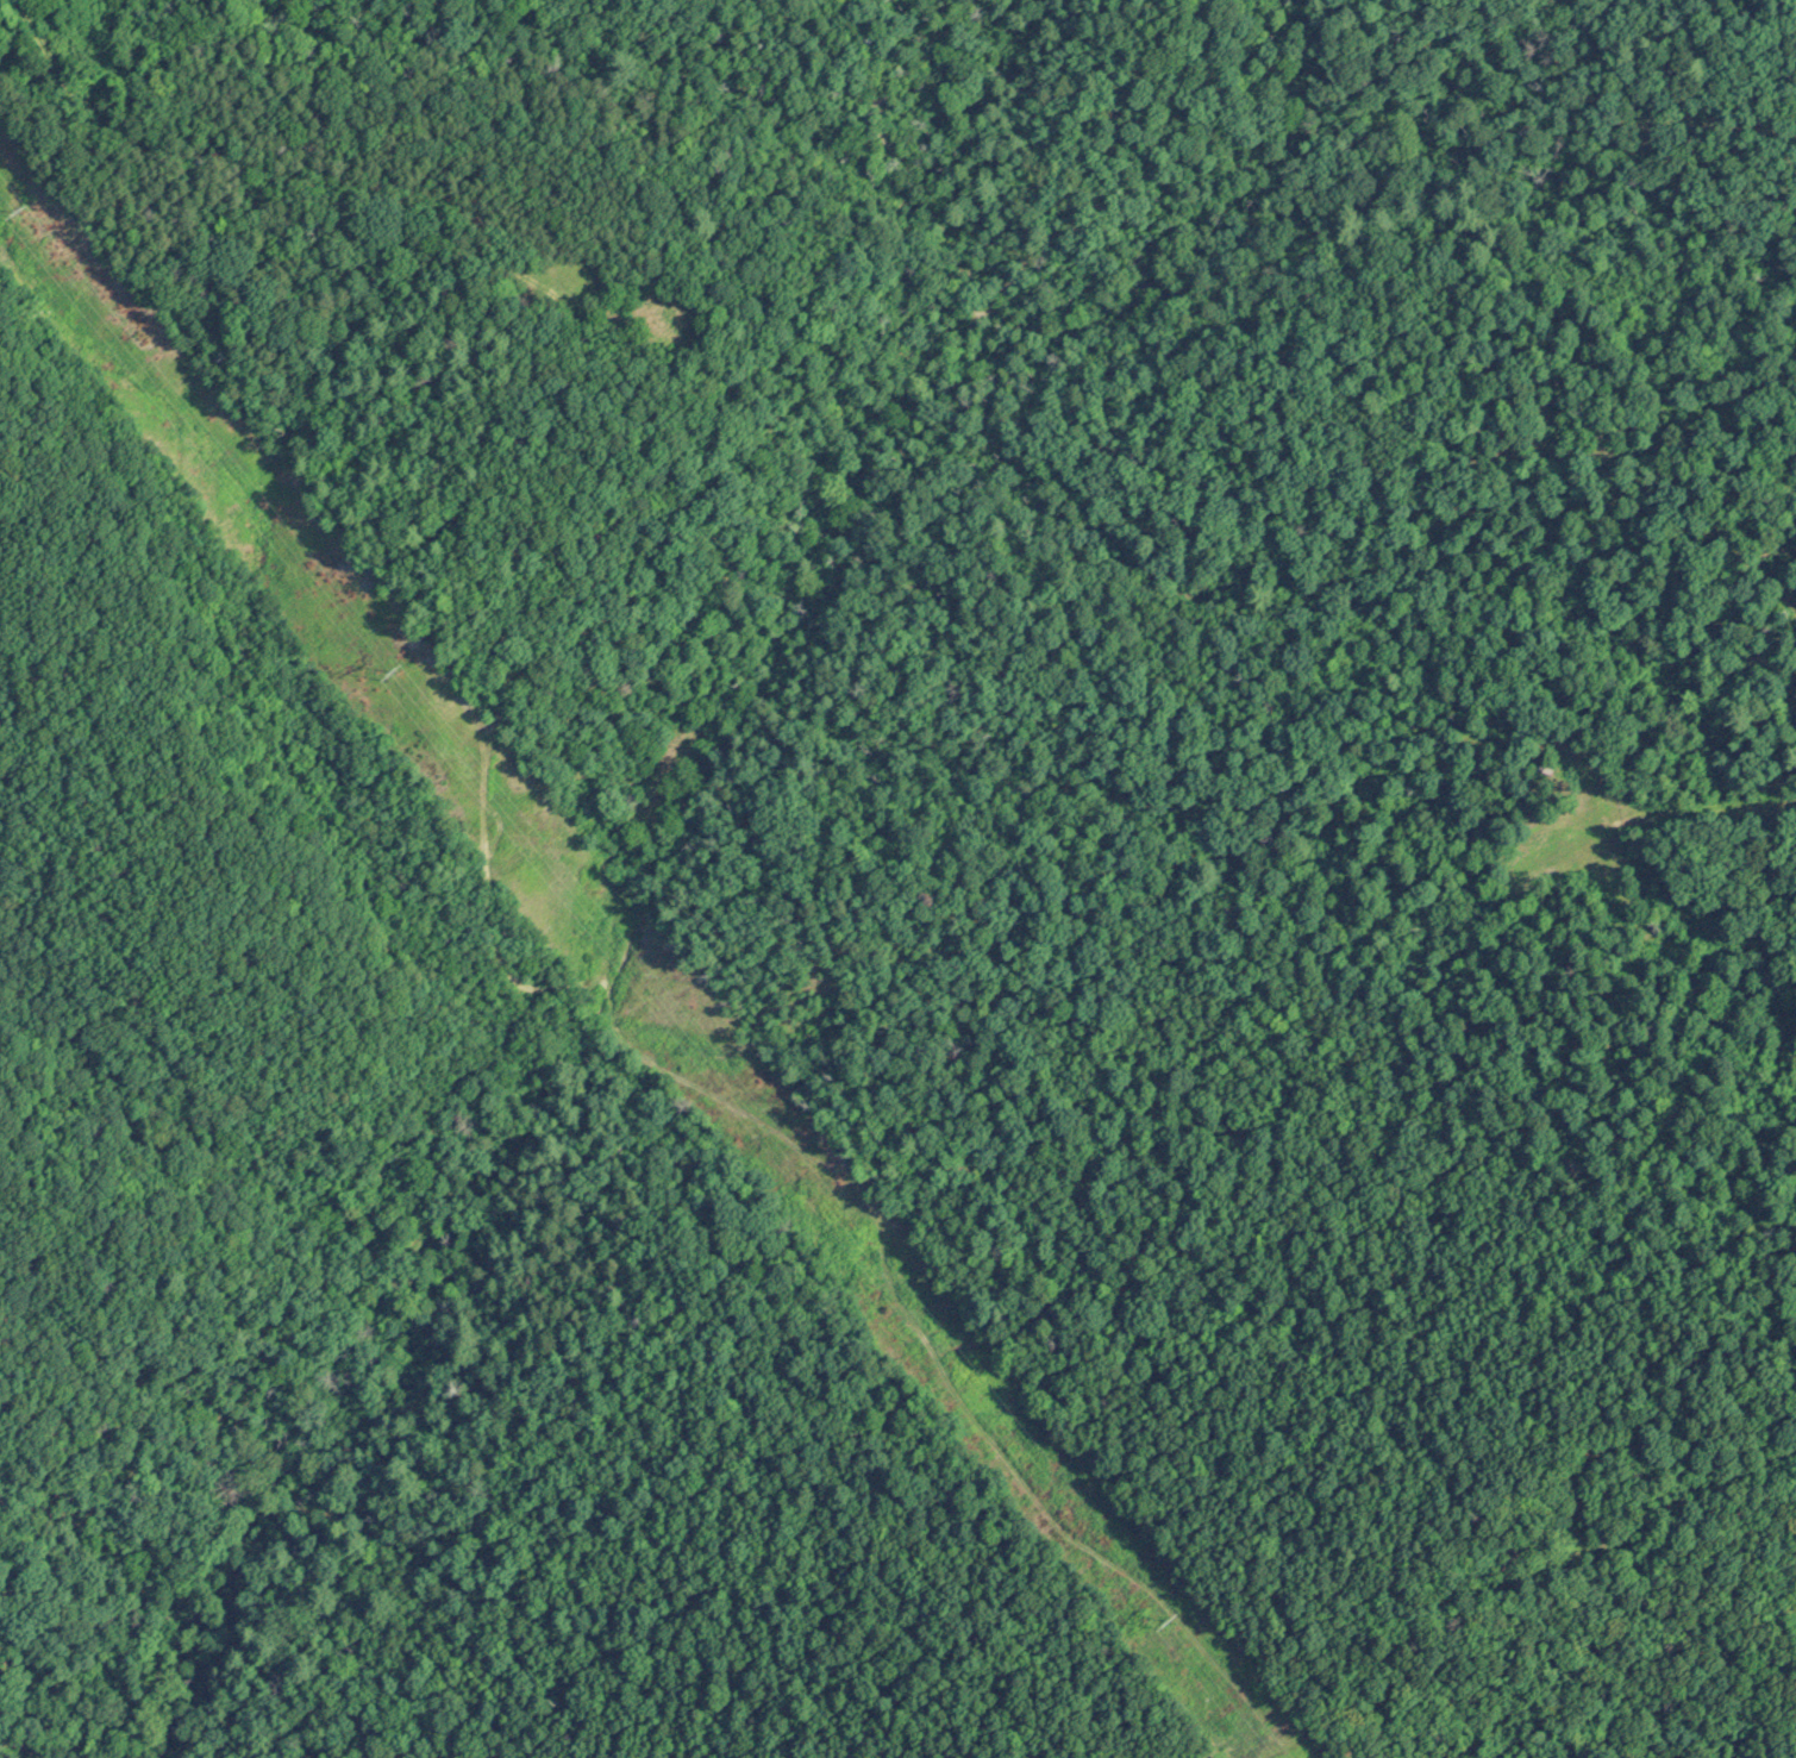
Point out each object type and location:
power tower: (19, 218)
power tower: (393, 677)
power tower: (1166, 1627)

